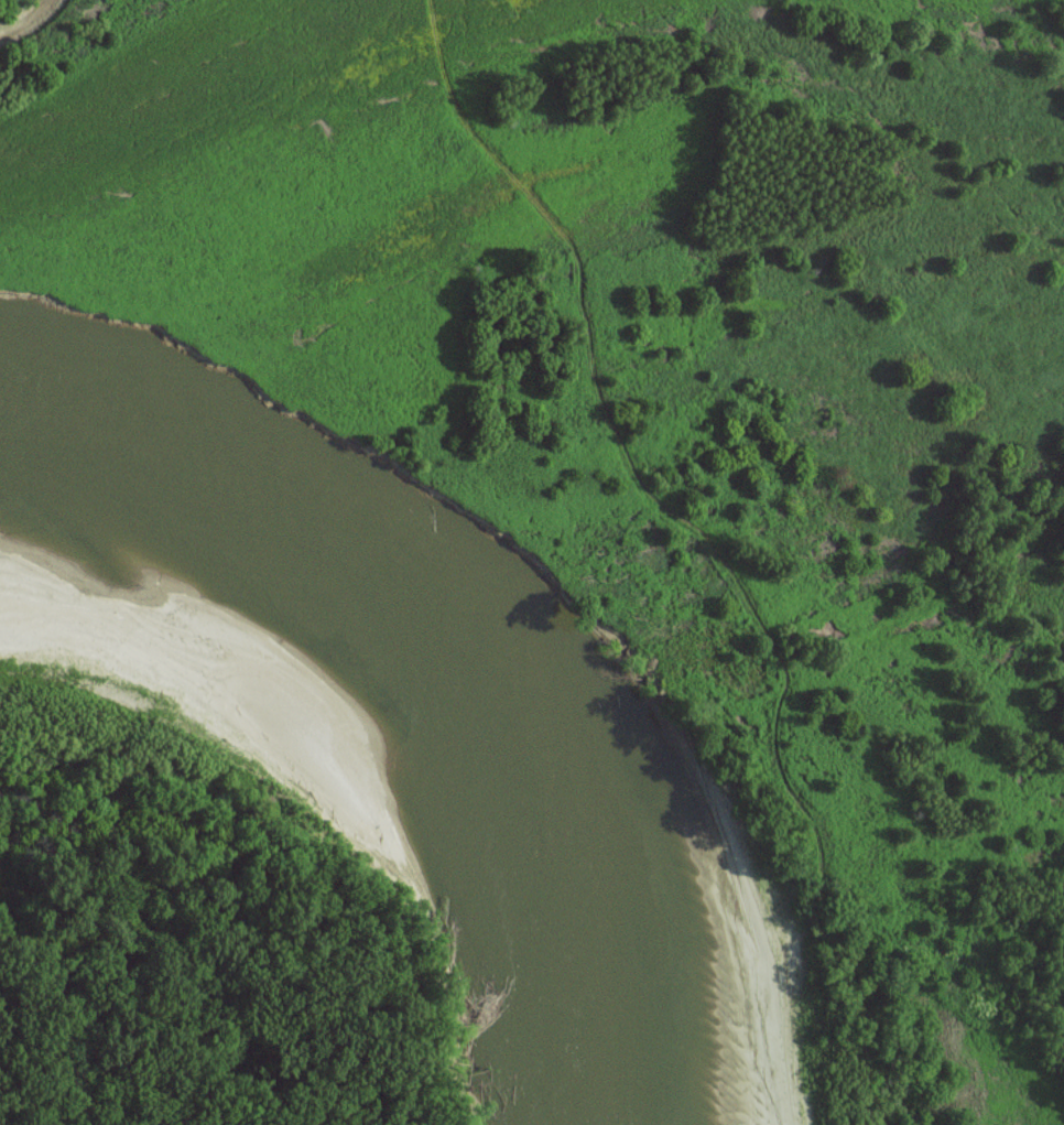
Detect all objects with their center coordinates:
river: (486, 702)

